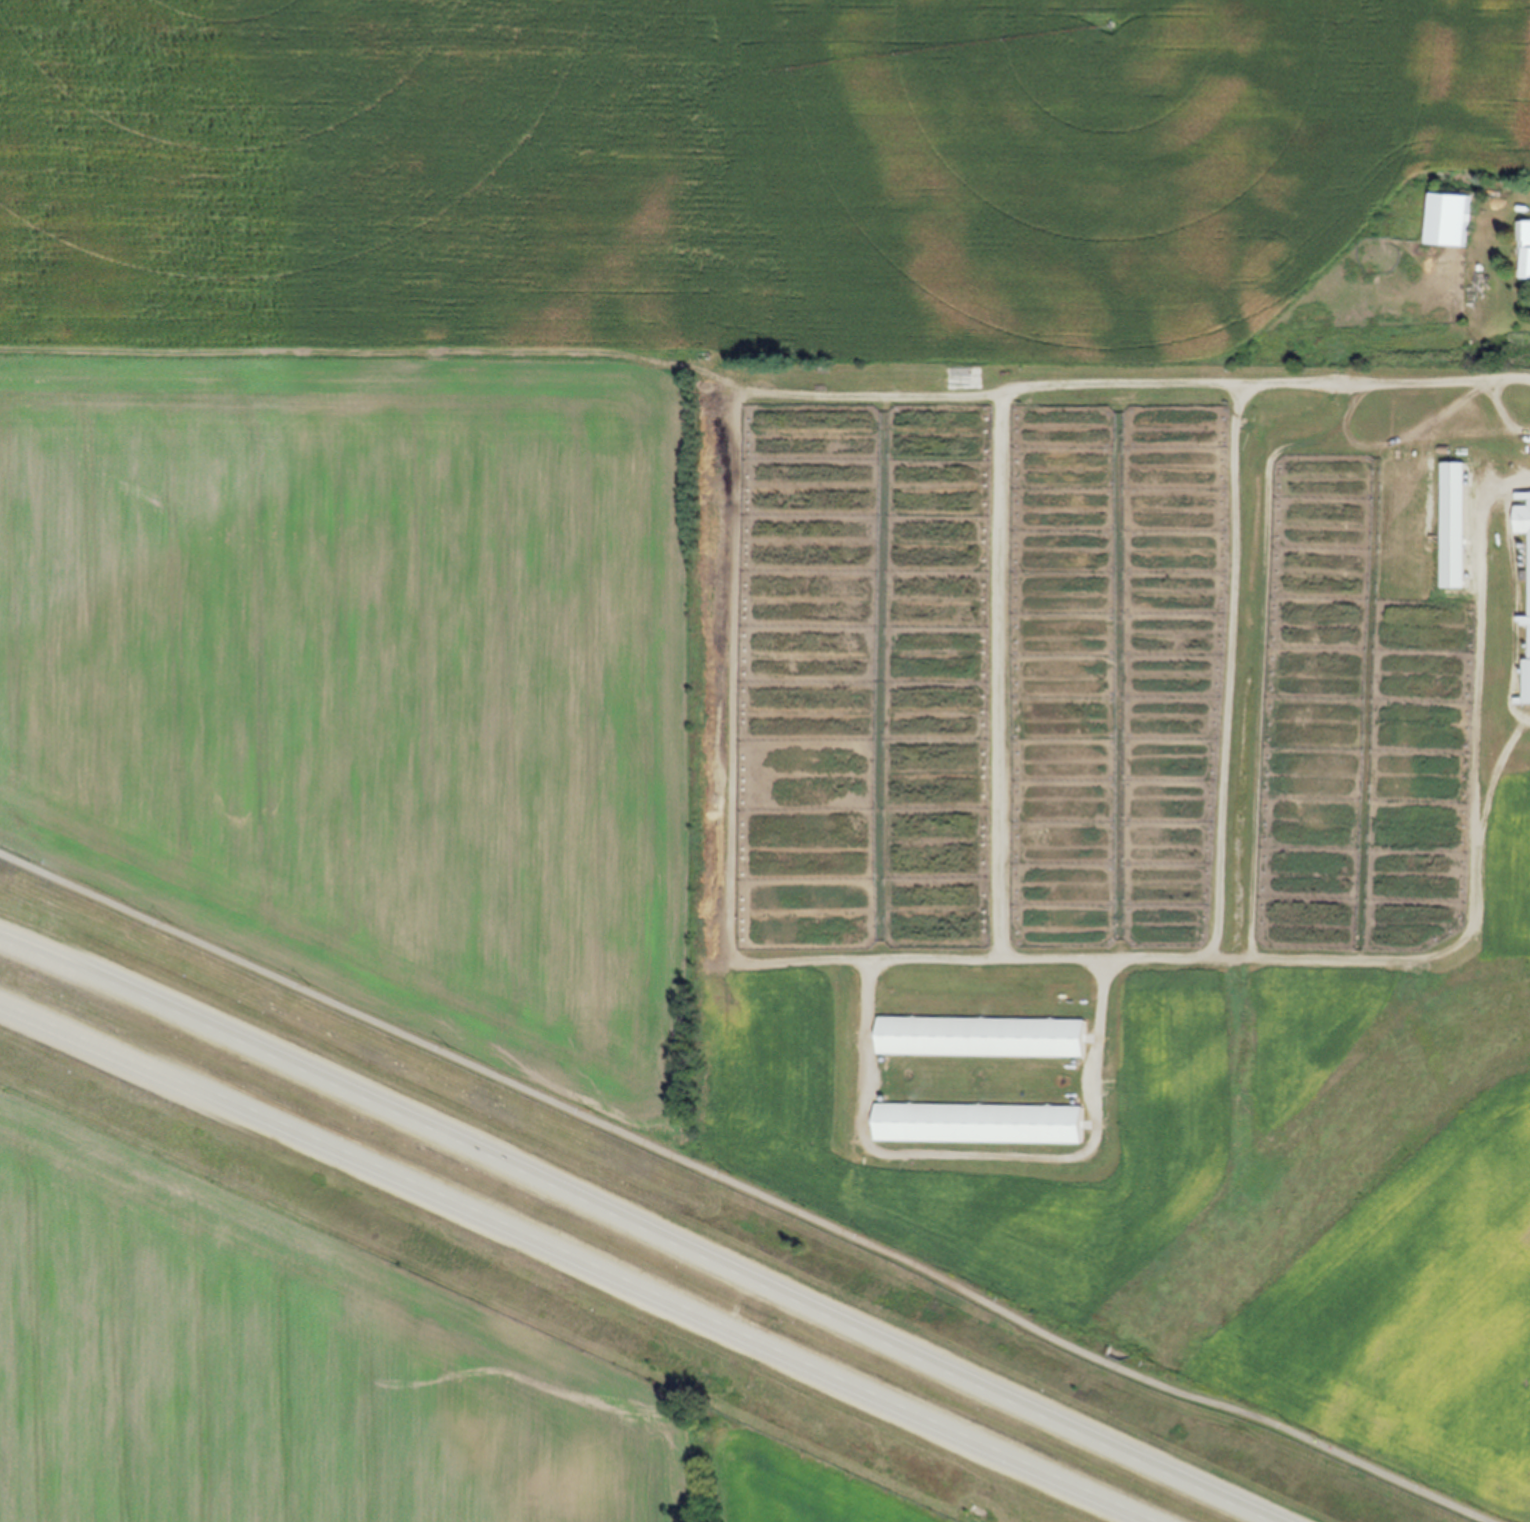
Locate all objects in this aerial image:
building: (1450, 219)
building: (1525, 245)
building: (1523, 519)
building: (1078, 607)
crop: (825, 618)
building: (1528, 680)
building: (1397, 707)
building: (853, 727)
building: (1071, 777)
building: (981, 1036)
building: (980, 1122)
road: (746, 1187)
road: (628, 1229)
road: (568, 1267)
crop: (322, 1375)

